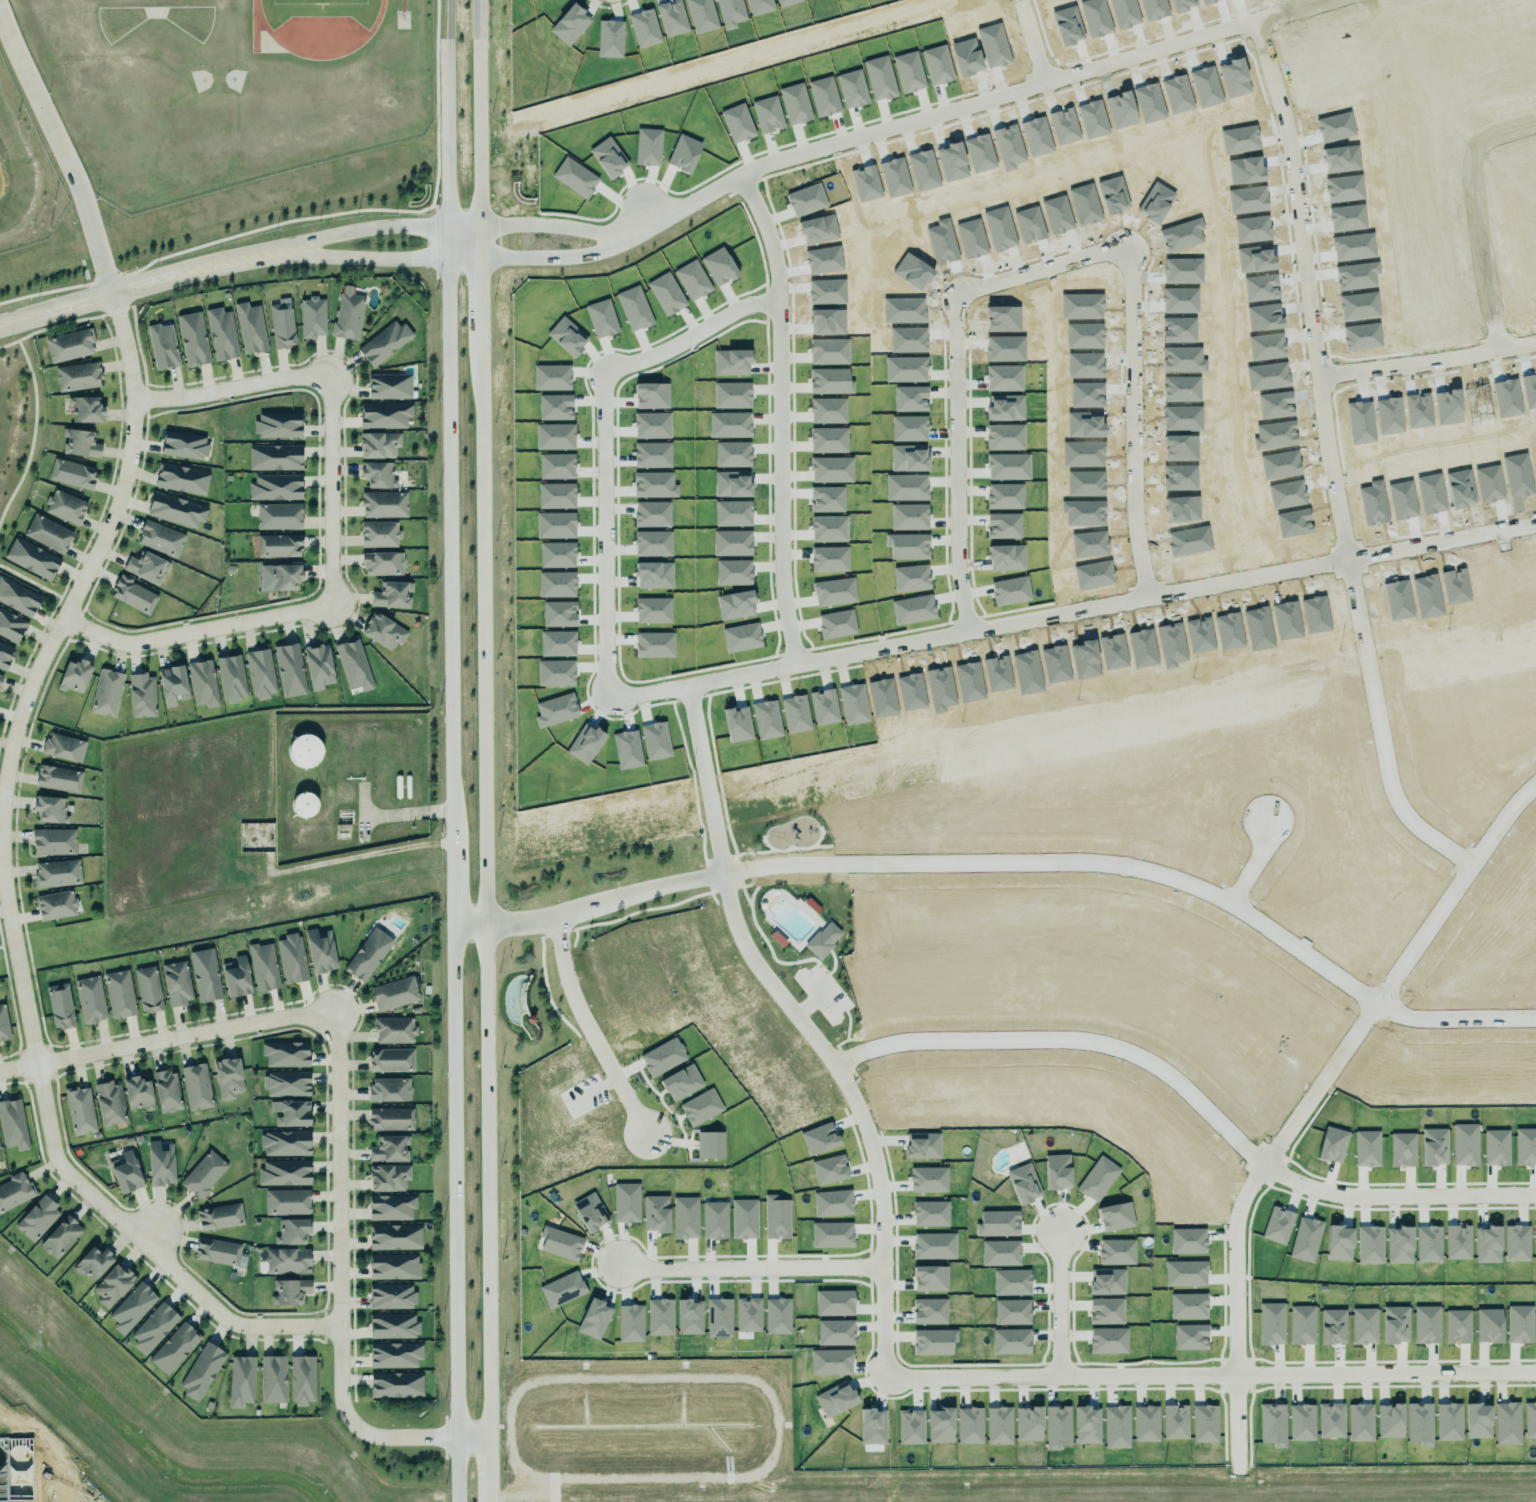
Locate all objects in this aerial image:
road: (1293, 10)
track: (252, 30)
road: (1029, 43)
road: (953, 110)
road: (57, 161)
road: (1475, 216)
road: (462, 225)
road: (657, 227)
road: (370, 228)
road: (371, 258)
road: (462, 258)
road: (148, 282)
road: (1312, 286)
road: (1136, 314)
building: (346, 315)
building: (310, 316)
building: (281, 324)
road: (59, 325)
building: (247, 327)
building: (219, 332)
building: (190, 337)
building: (382, 341)
road: (9, 343)
building: (67, 344)
building: (160, 345)
road: (1430, 364)
building: (75, 375)
building: (388, 385)
road: (232, 388)
building: (82, 407)
building: (384, 415)
road: (785, 415)
building: (277, 425)
road: (33, 432)
road: (609, 441)
building: (79, 443)
building: (376, 443)
building: (183, 445)
building: (272, 456)
building: (69, 473)
building: (375, 473)
building: (179, 478)
building: (273, 486)
road: (331, 491)
road: (962, 491)
building: (381, 503)
building: (62, 505)
building: (173, 508)
building: (276, 515)
building: (45, 532)
building: (376, 533)
building: (160, 539)
road: (1441, 543)
building: (276, 544)
building: (31, 559)
building: (382, 564)
building: (143, 565)
building: (281, 576)
road: (30, 581)
building: (389, 593)
building: (130, 594)
road: (1162, 595)
building: (16, 596)
building: (10, 625)
building: (380, 630)
road: (196, 631)
road: (889, 647)
building: (4, 655)
building: (316, 664)
building: (351, 664)
building: (287, 668)
building: (260, 673)
building: (0, 675)
building: (74, 676)
building: (229, 676)
road: (711, 680)
building: (200, 682)
building: (170, 683)
building: (104, 691)
building: (139, 692)
road: (1378, 728)
building: (63, 747)
road: (452, 750)
road: (485, 750)
building: (303, 751)
building: (56, 777)
road: (710, 777)
building: (48, 808)
building: (53, 842)
road: (1070, 863)
road: (1254, 864)
building: (54, 872)
road: (5, 888)
road: (1453, 890)
building: (55, 905)
road: (591, 906)
building: (822, 940)
road: (2, 947)
building: (319, 951)
building: (365, 954)
building: (291, 958)
building: (261, 966)
building: (202, 974)
building: (236, 977)
building: (174, 982)
building: (147, 989)
building: (392, 992)
building: (116, 993)
building: (87, 998)
building: (58, 1003)
road: (1455, 1020)
building: (3, 1024)
building: (393, 1027)
road: (587, 1030)
road: (1067, 1038)
road: (165, 1040)
road: (1346, 1046)
building: (282, 1053)
building: (391, 1060)
building: (225, 1077)
building: (285, 1081)
building: (681, 1083)
building: (193, 1084)
building: (387, 1089)
building: (164, 1090)
building: (135, 1092)
building: (107, 1102)
road: (852, 1105)
building: (78, 1107)
building: (700, 1107)
building: (288, 1112)
building: (388, 1118)
building: (11, 1124)
road: (1288, 1126)
building: (819, 1138)
building: (283, 1141)
building: (709, 1145)
building: (922, 1145)
building: (387, 1147)
building: (157, 1162)
building: (829, 1170)
building: (282, 1171)
building: (1057, 1171)
building: (125, 1172)
building: (201, 1173)
building: (388, 1174)
building: (928, 1179)
building: (1097, 1179)
road: (1287, 1180)
building: (1021, 1183)
building: (13, 1190)
building: (287, 1202)
building: (626, 1202)
building: (832, 1203)
building: (388, 1206)
building: (589, 1212)
building: (655, 1213)
building: (930, 1213)
building: (36, 1216)
building: (217, 1216)
building: (1115, 1216)
building: (685, 1218)
building: (775, 1218)
building: (743, 1219)
building: (714, 1220)
building: (997, 1224)
building: (290, 1228)
building: (831, 1234)
building: (58, 1235)
building: (393, 1235)
building: (560, 1243)
building: (933, 1246)
building: (217, 1249)
building: (1116, 1251)
building: (1000, 1253)
building: (91, 1258)
building: (285, 1260)
building: (393, 1266)
road: (749, 1268)
building: (930, 1278)
building: (1011, 1282)
building: (1106, 1282)
building: (112, 1283)
building: (561, 1289)
road: (339, 1290)
building: (289, 1291)
building: (389, 1294)
building: (834, 1303)
road: (1057, 1305)
building: (132, 1306)
building: (929, 1311)
building: (1106, 1311)
building: (1011, 1312)
building: (748, 1315)
building: (777, 1316)
building: (660, 1317)
building: (688, 1317)
building: (718, 1317)
building: (594, 1319)
building: (630, 1323)
building: (1271, 1323)
building: (1426, 1324)
building: (1519, 1324)
building: (390, 1325)
building: (1301, 1325)
building: (1394, 1325)
building: (1332, 1326)
building: (1363, 1326)
building: (1456, 1326)
building: (1488, 1326)
building: (153, 1328)
building: (835, 1332)
building: (1108, 1340)
building: (934, 1341)
building: (1011, 1341)
building: (174, 1348)
building: (393, 1353)
building: (831, 1362)
building: (200, 1367)
building: (270, 1378)
building: (300, 1378)
road: (1211, 1379)
building: (241, 1381)
building: (395, 1384)
building: (835, 1399)
building: (1331, 1420)
building: (1530, 1420)
building: (1390, 1421)
building: (1477, 1421)
building: (1175, 1422)
building: (1301, 1422)
building: (1360, 1422)
building: (1448, 1422)
building: (1146, 1423)
building: (1204, 1423)
road: (1234, 1423)
building: (1419, 1423)
building: (1507, 1423)
building: (1028, 1424)
building: (1272, 1424)
building: (940, 1425)
building: (969, 1425)
building: (999, 1425)
building: (1086, 1425)
building: (872, 1426)
building: (910, 1427)
building: (1057, 1427)
building: (1116, 1427)

